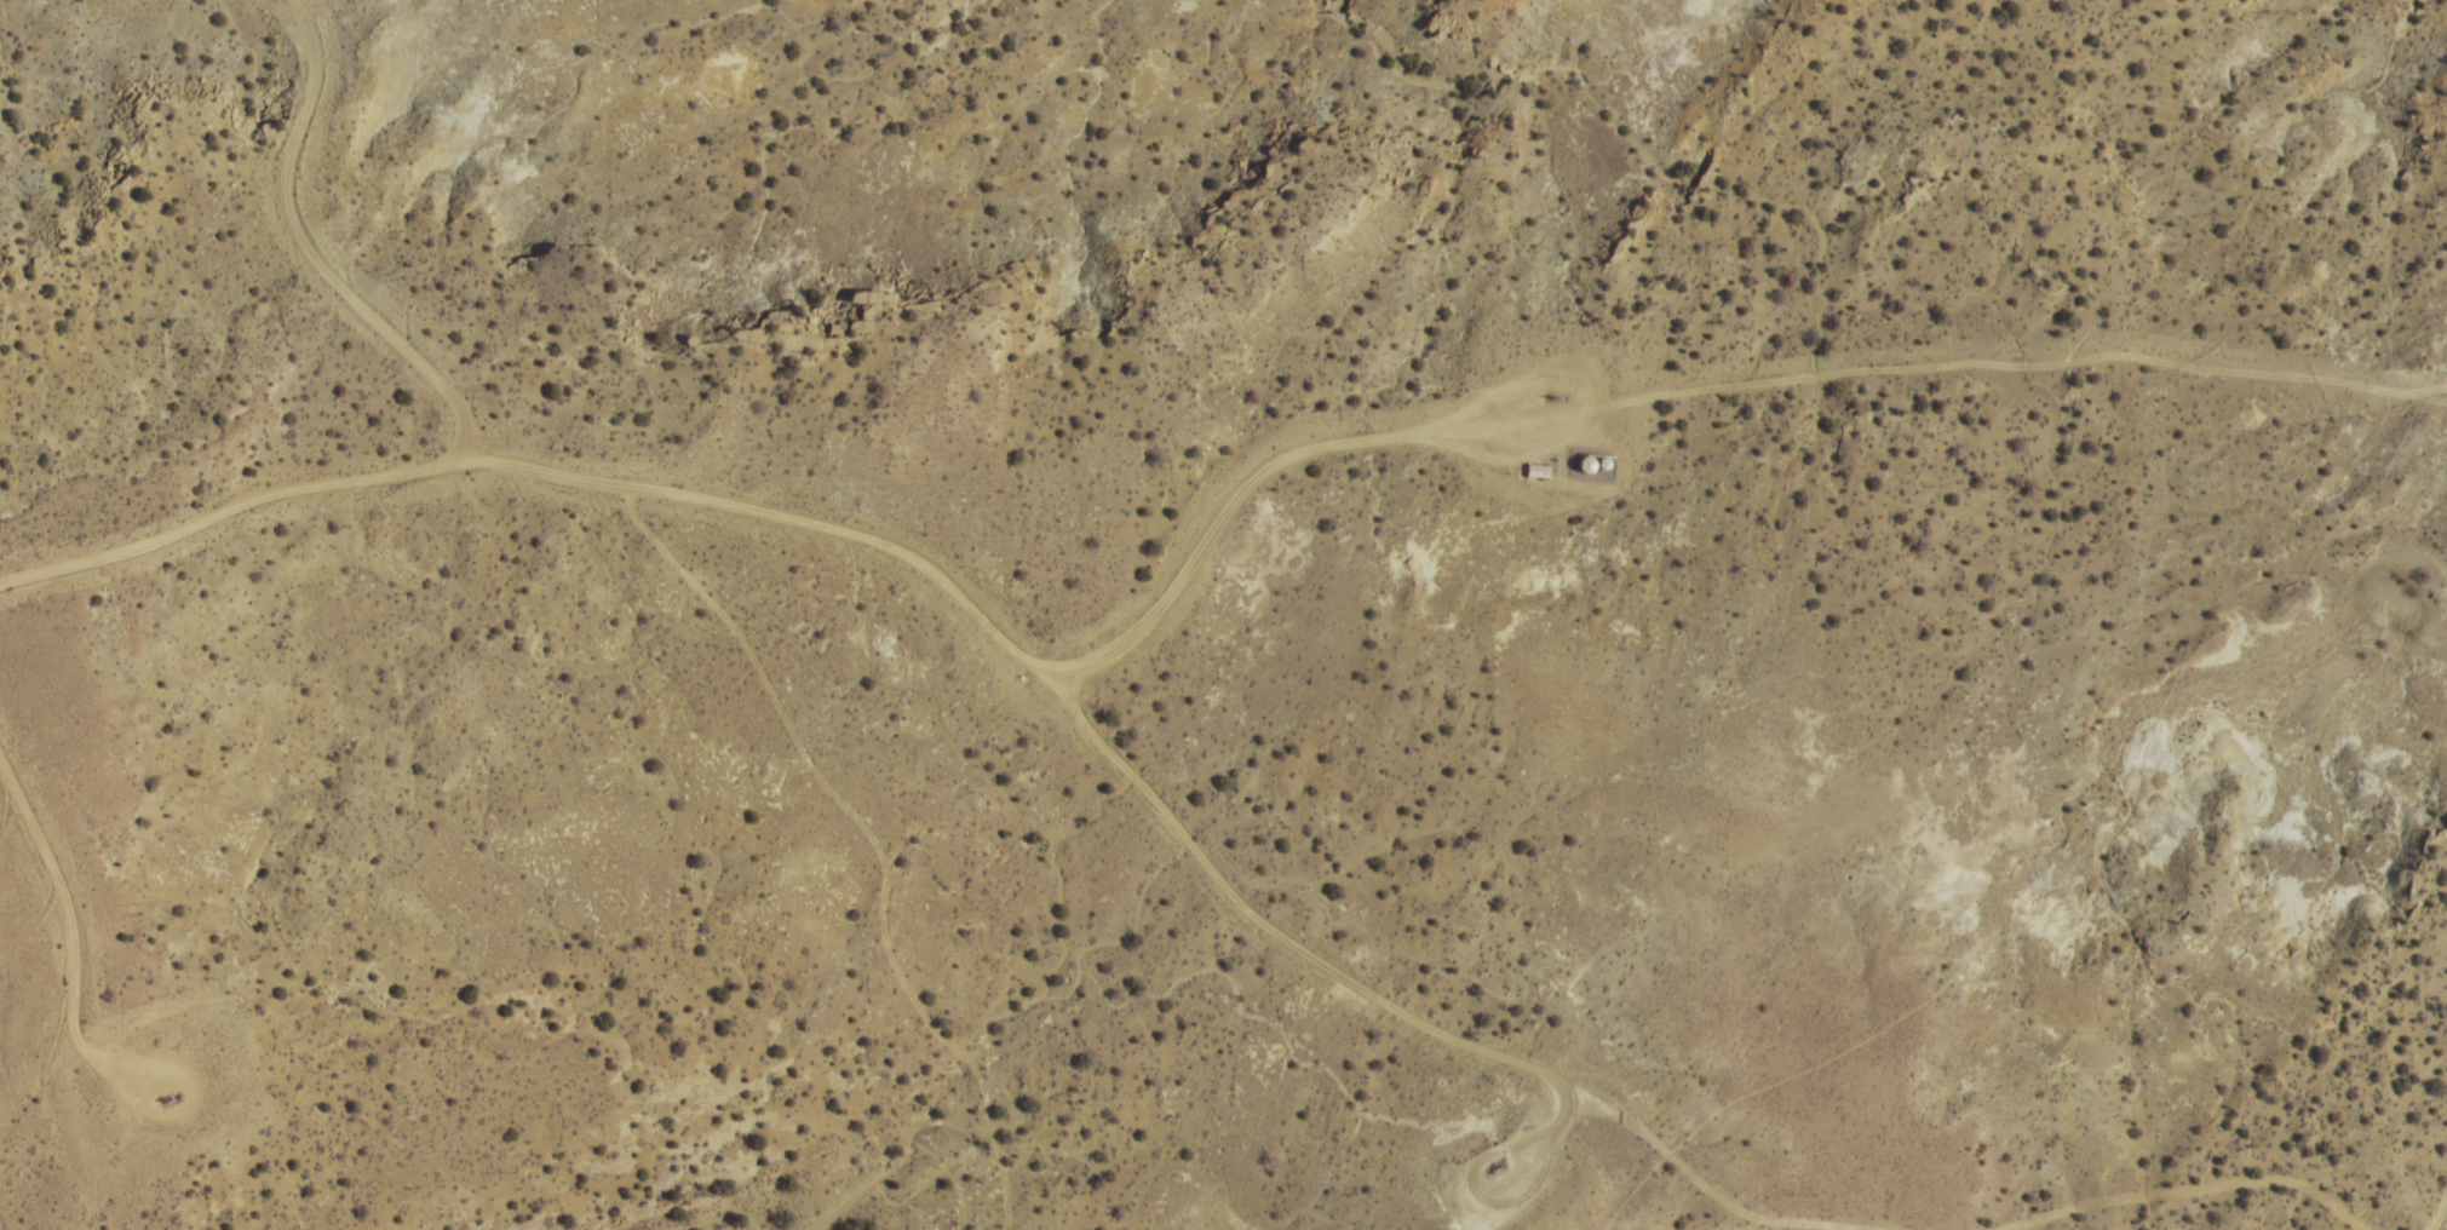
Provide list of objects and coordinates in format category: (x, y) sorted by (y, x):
road: (12, 575)
road: (645, 588)
road: (2194, 1177)
road: (1981, 1217)

